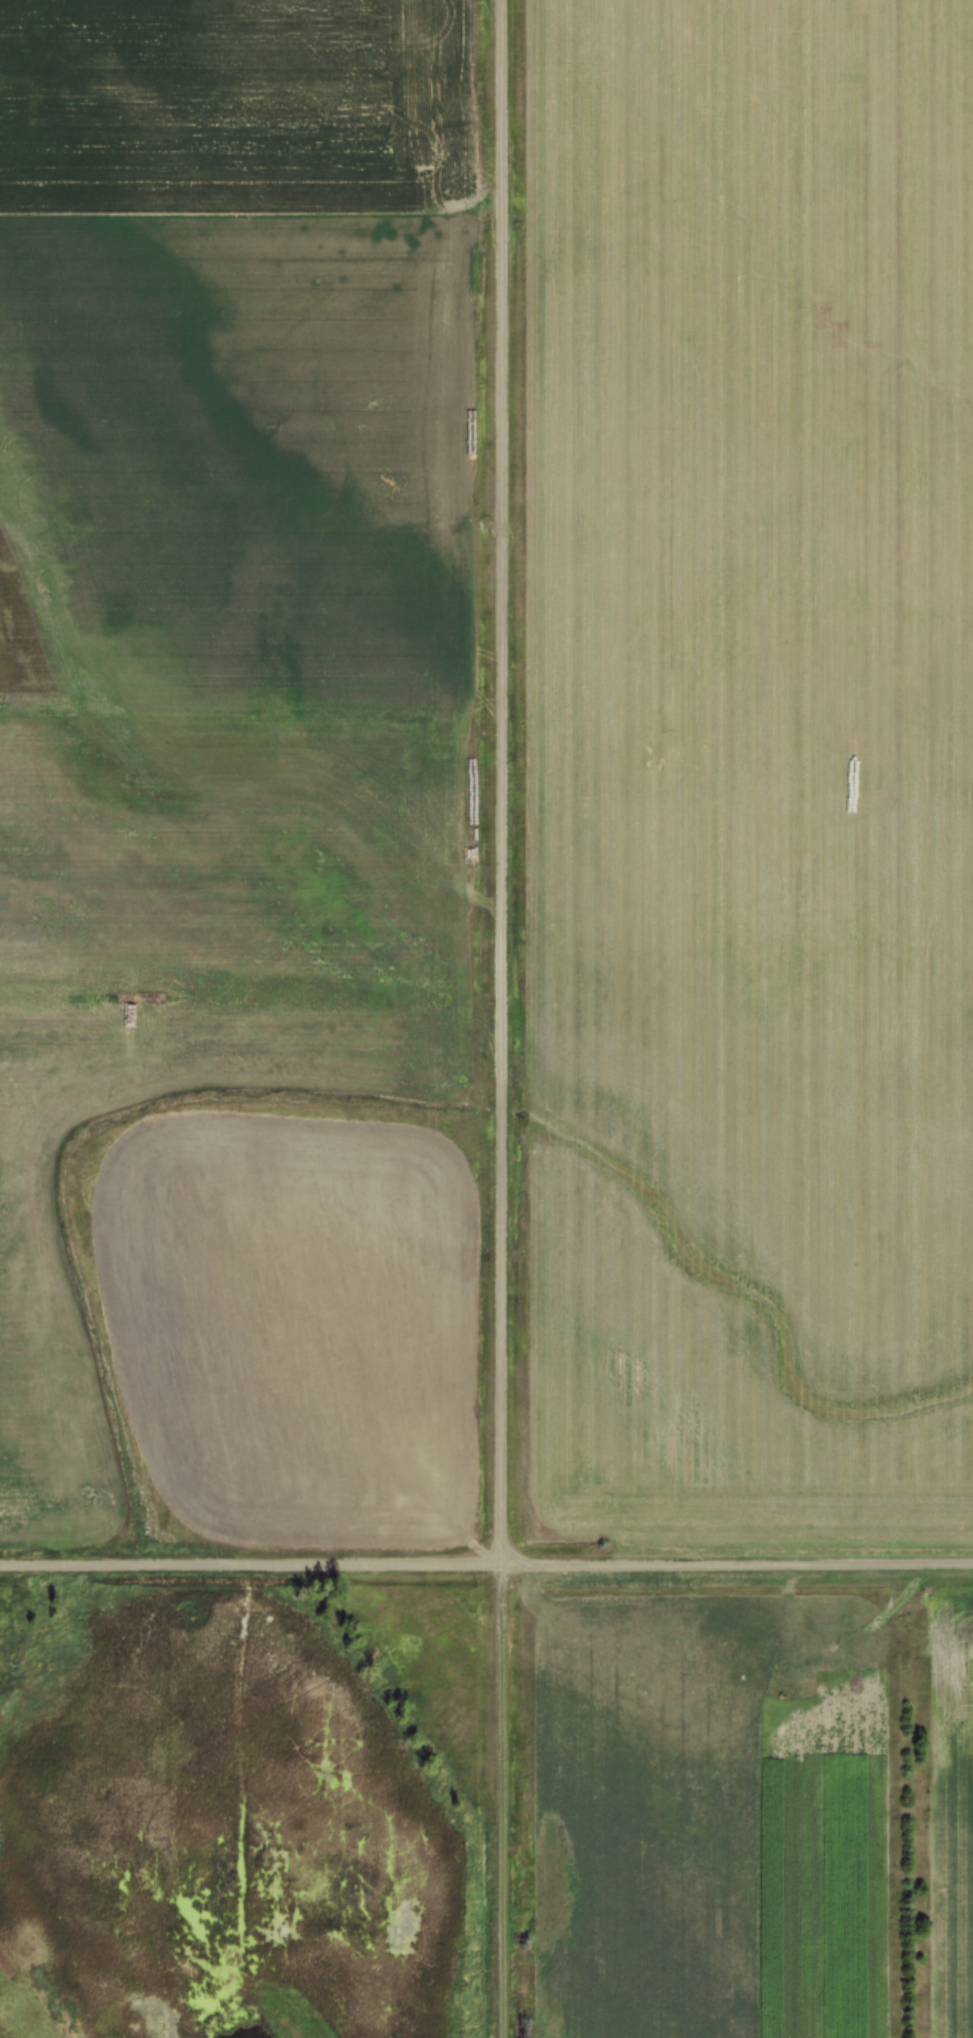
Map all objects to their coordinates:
road: (503, 1018)
road: (739, 1562)

